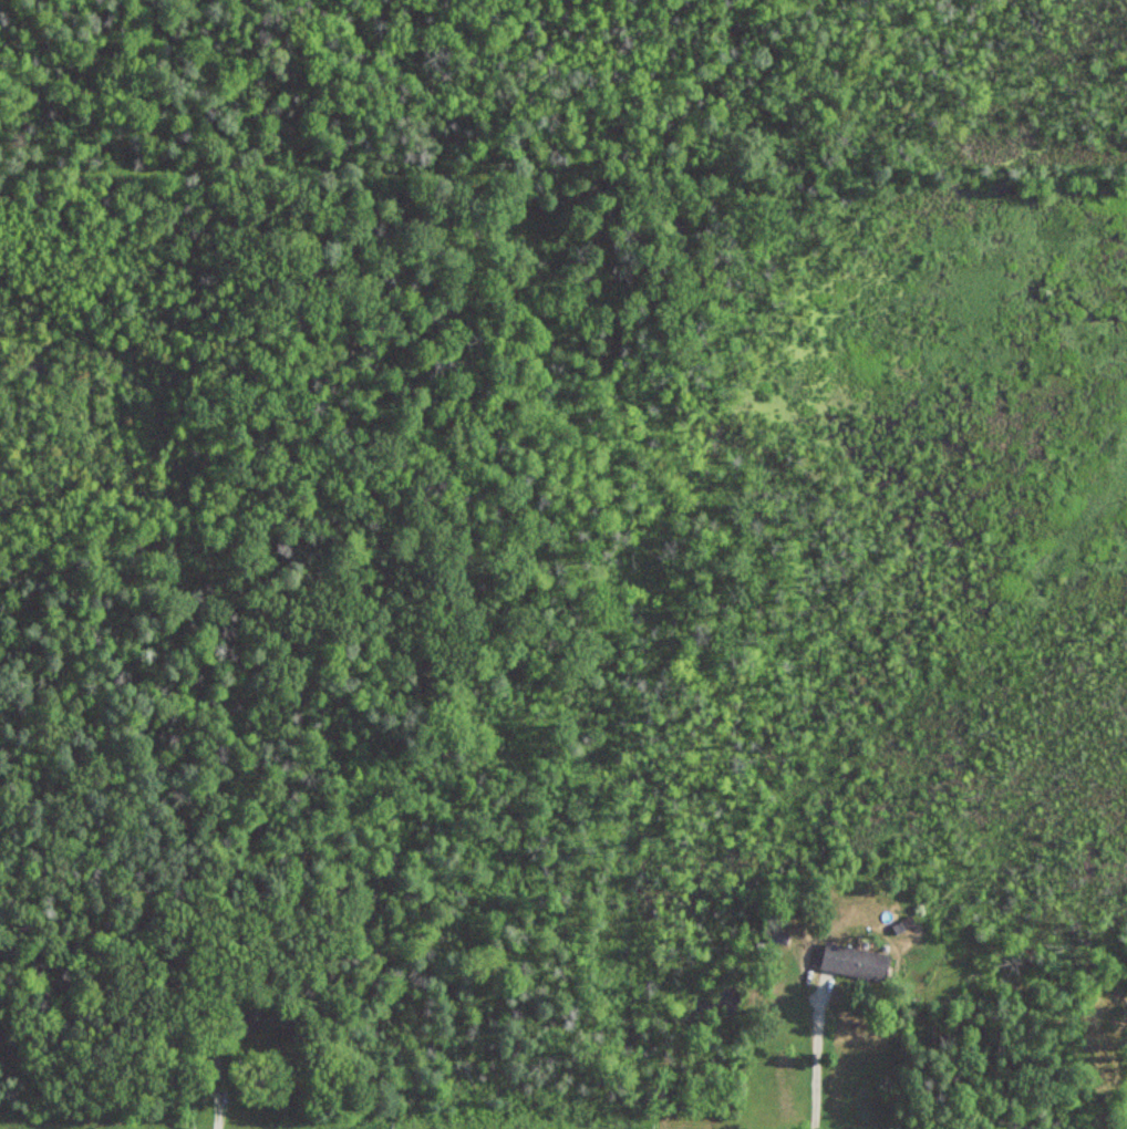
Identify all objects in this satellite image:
building: (851, 963)
building: (206, 1069)
road: (814, 1070)

